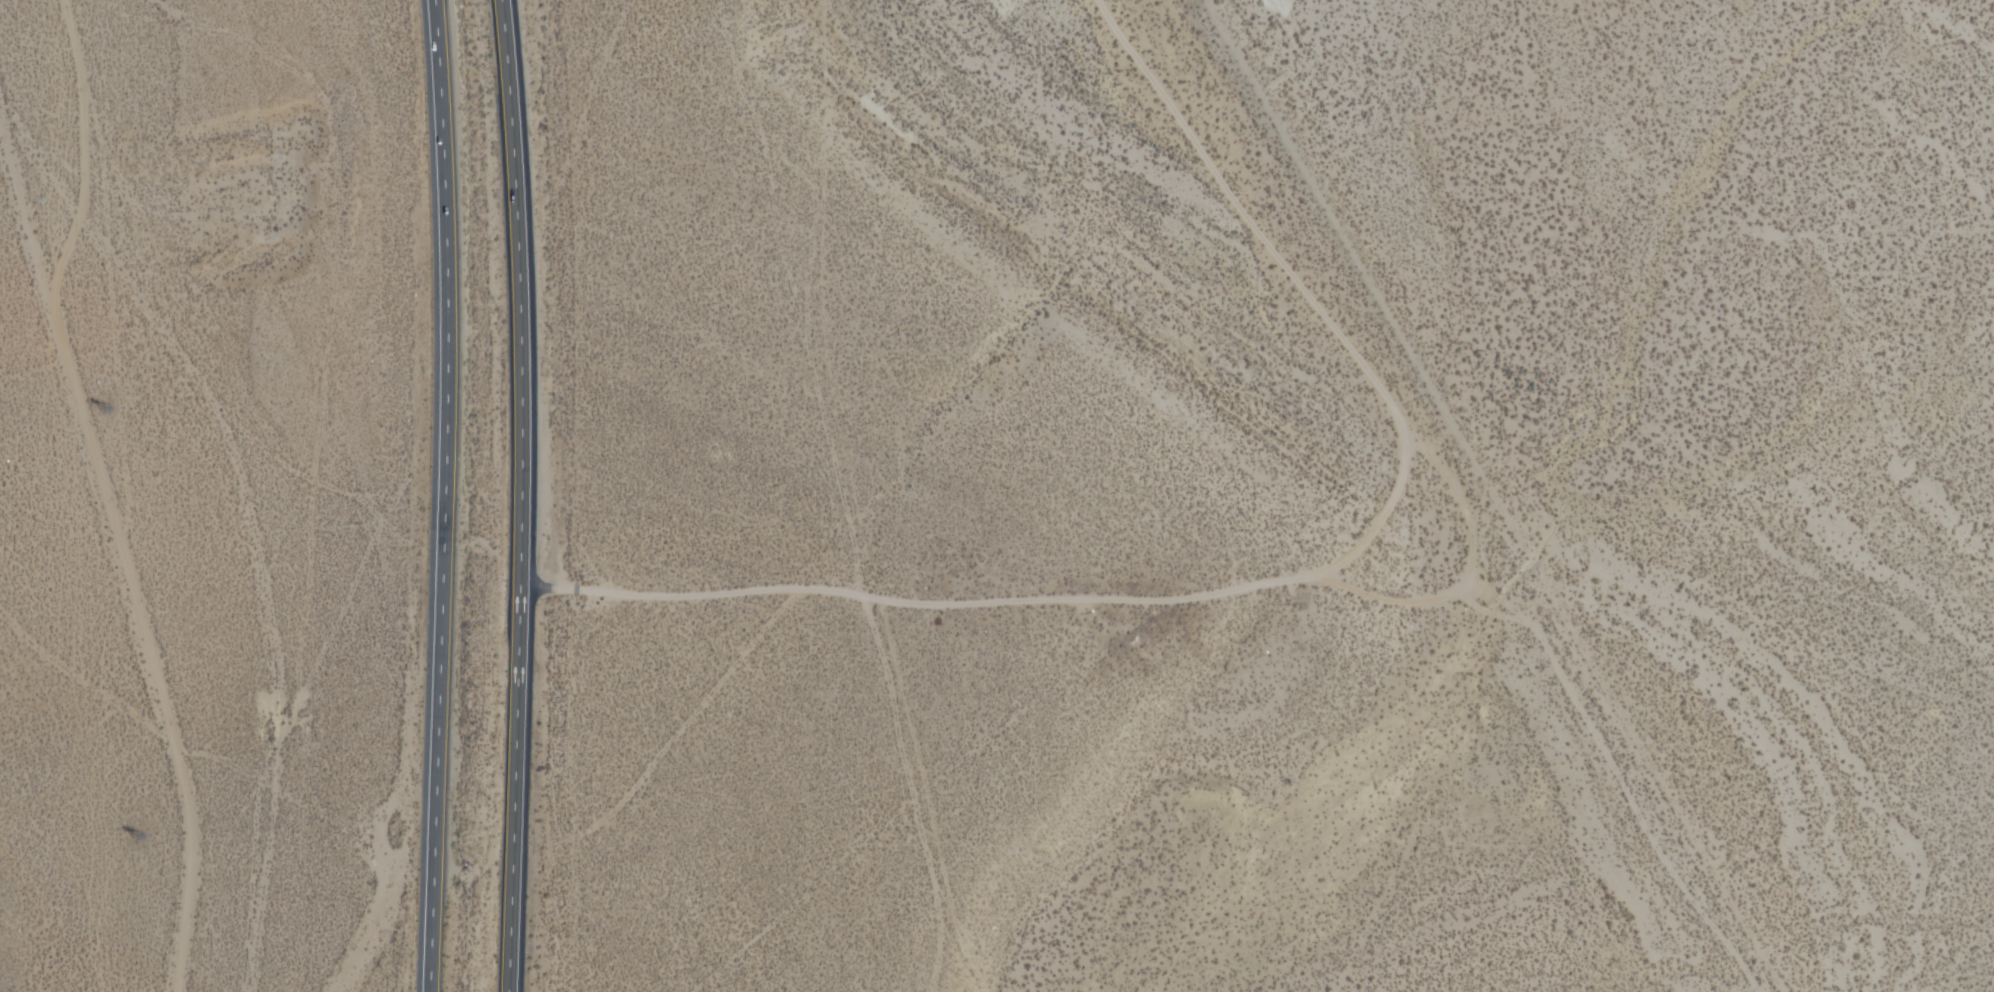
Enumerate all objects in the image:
road: (80, 154)
power tower: (104, 415)
road: (445, 495)
road: (523, 495)
road: (1372, 512)
road: (122, 554)
road: (1341, 580)
road: (1610, 777)
power tower: (138, 839)
road: (376, 917)

